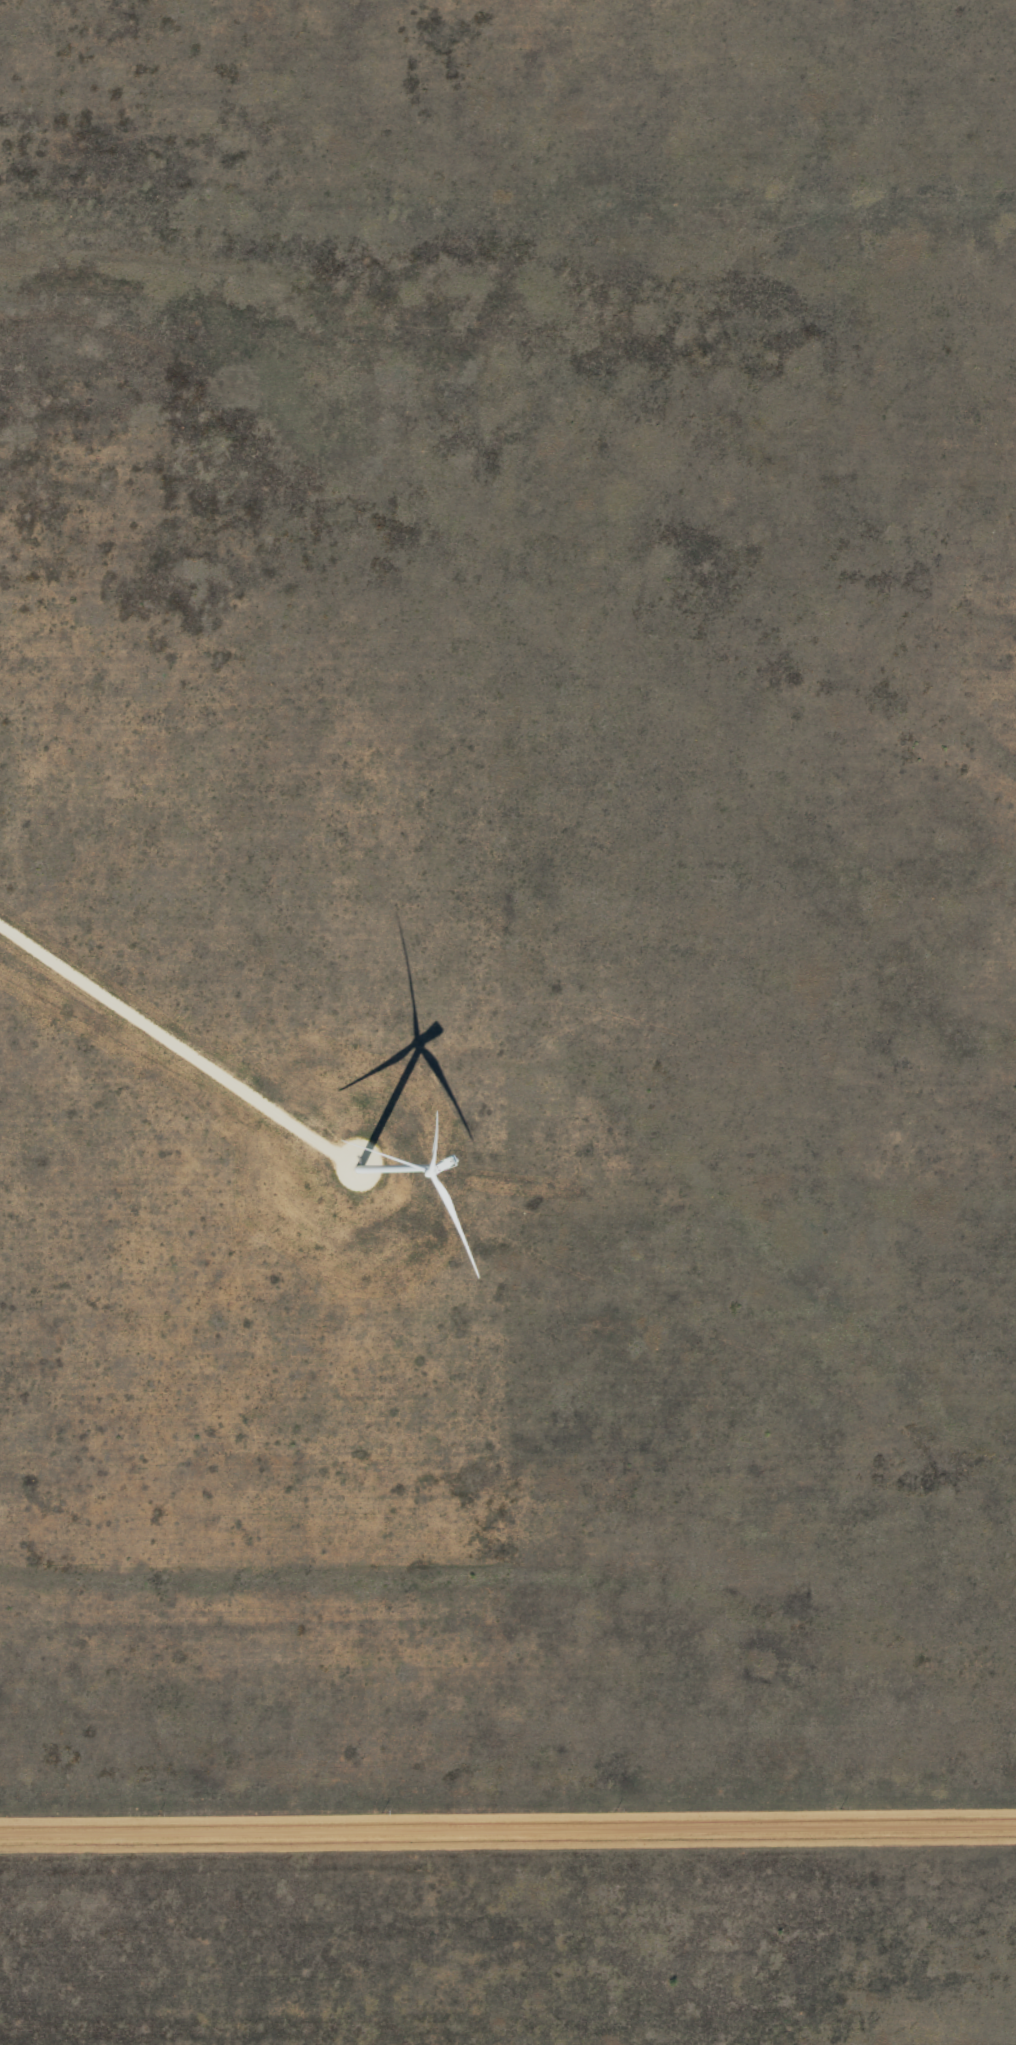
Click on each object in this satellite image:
wind turbine: (366, 1173)
road: (508, 1837)

